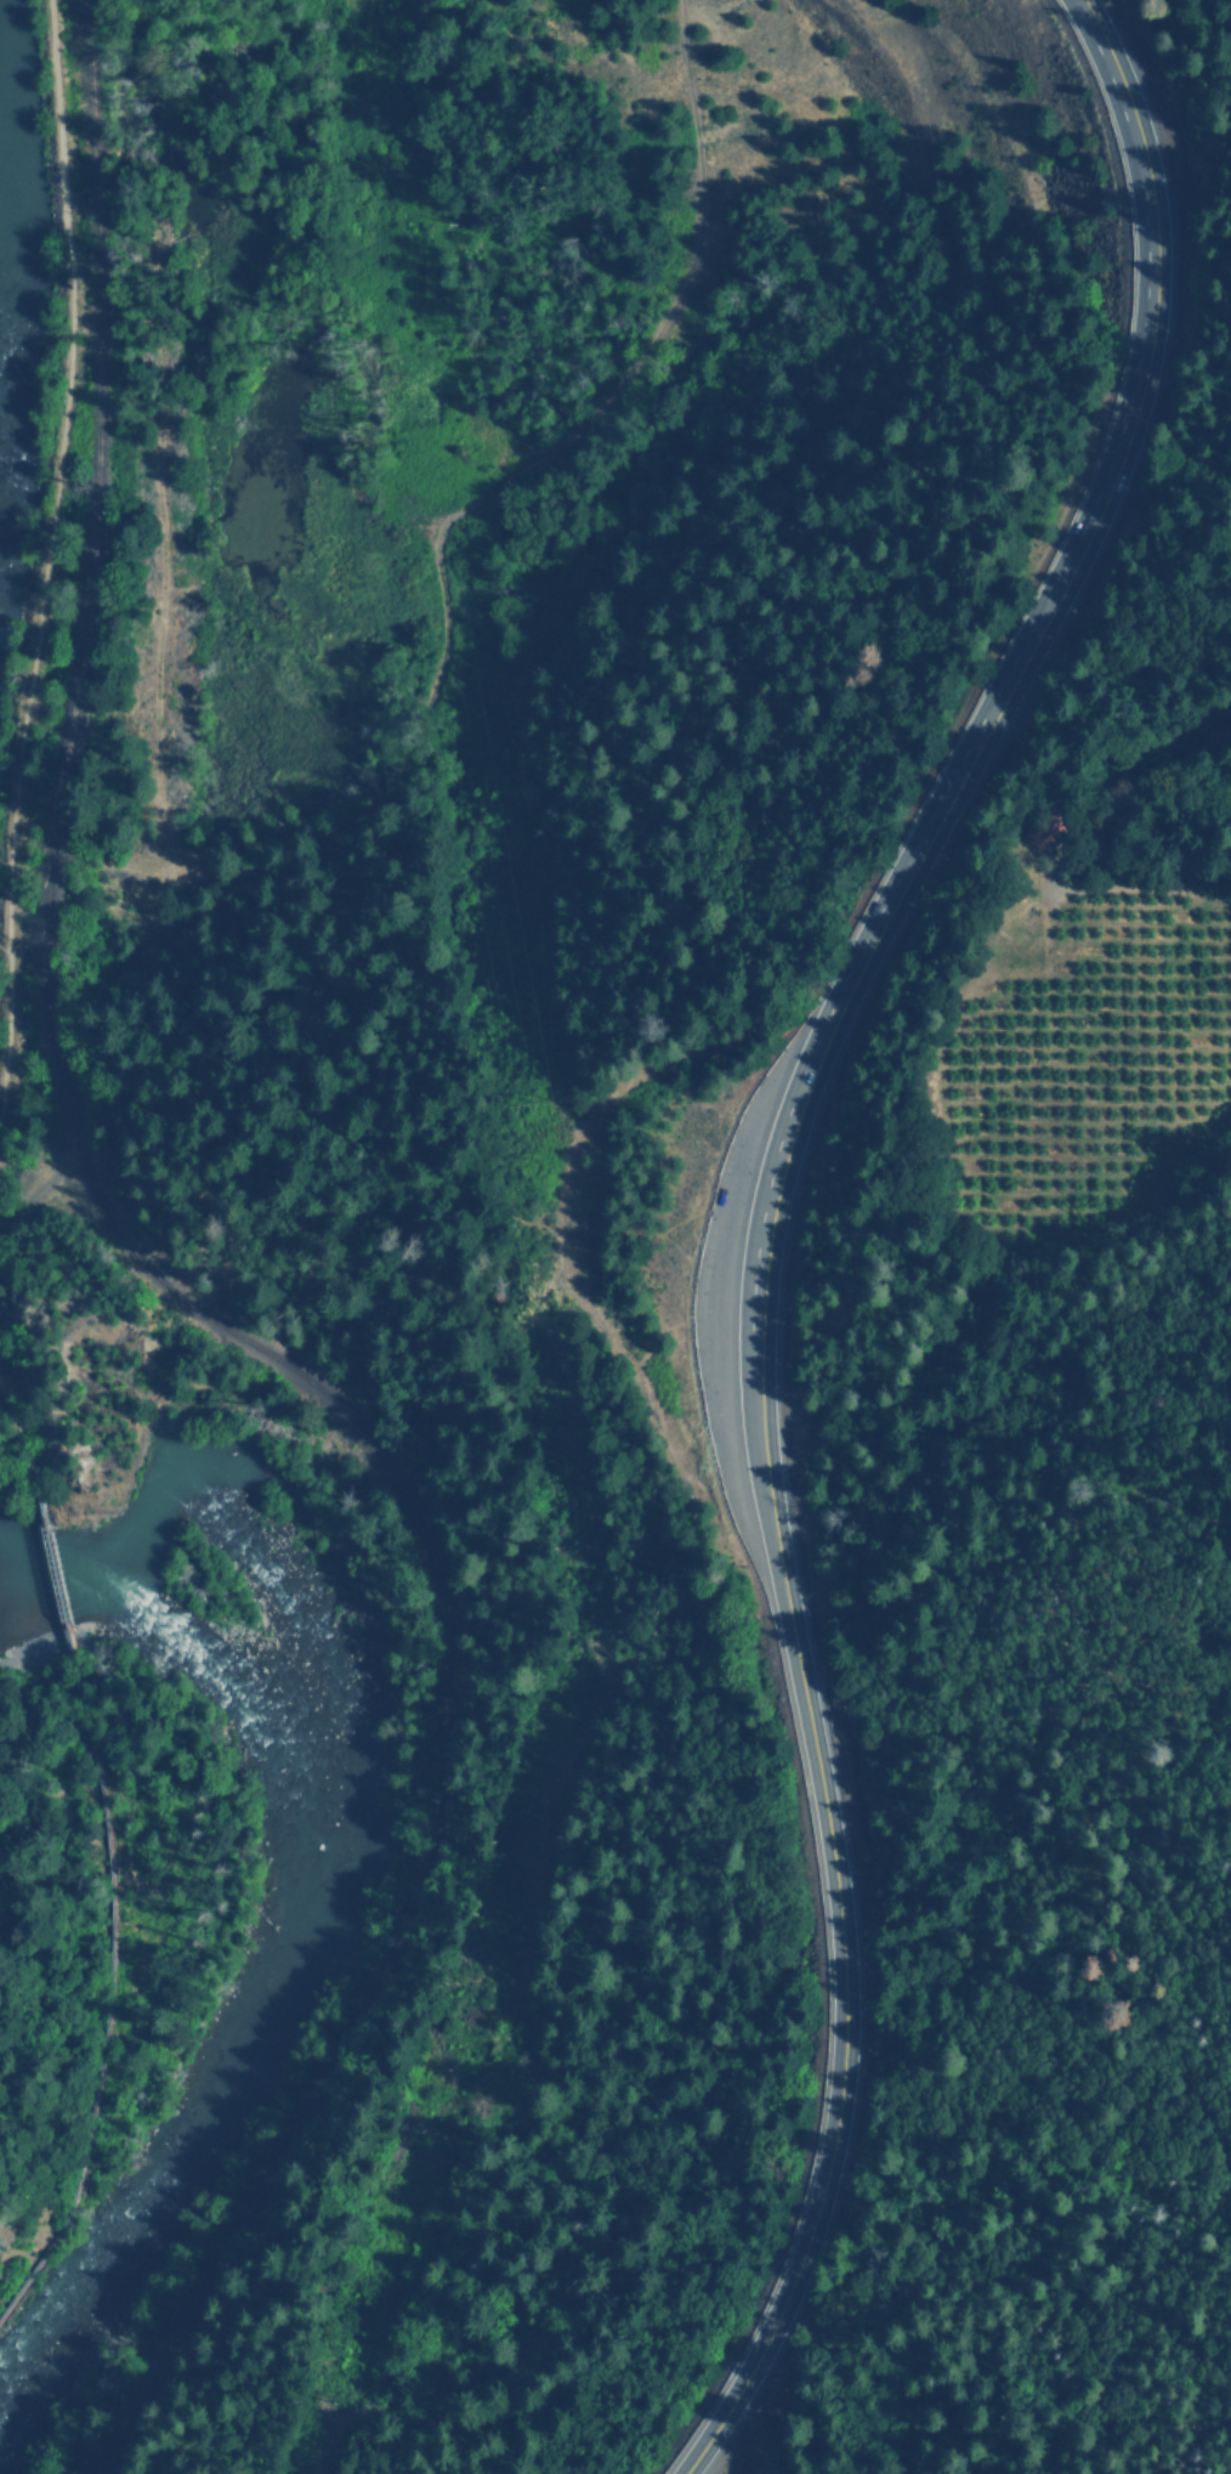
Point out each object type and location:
road: (1151, 270)
road: (46, 543)
road: (884, 913)
parking lot: (745, 1283)
railway: (194, 1314)
road: (21, 1448)
road: (56, 1573)
river: (337, 1856)
road: (838, 1906)
road: (110, 1986)
road: (110, 1986)

